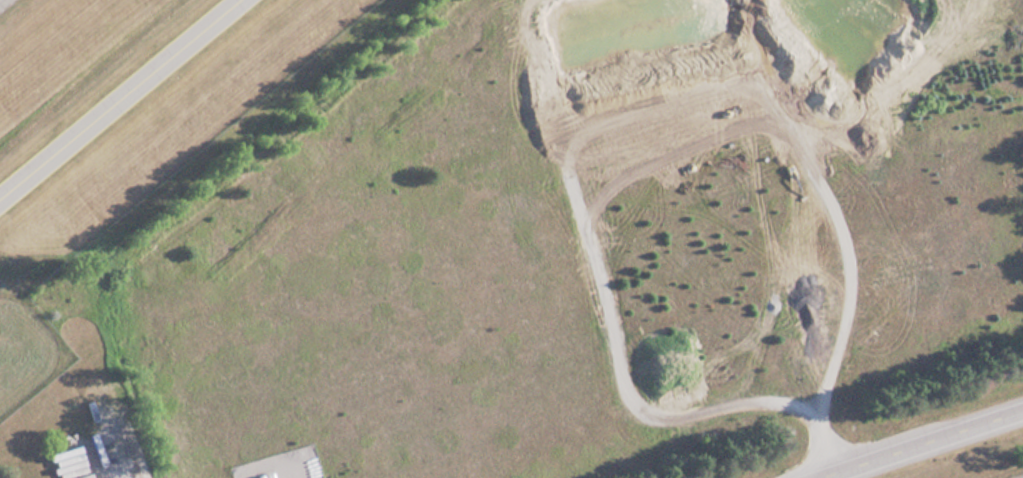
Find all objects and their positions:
airport taxiway: (114, 94)
road: (918, 443)
building: (78, 475)
building: (266, 475)

